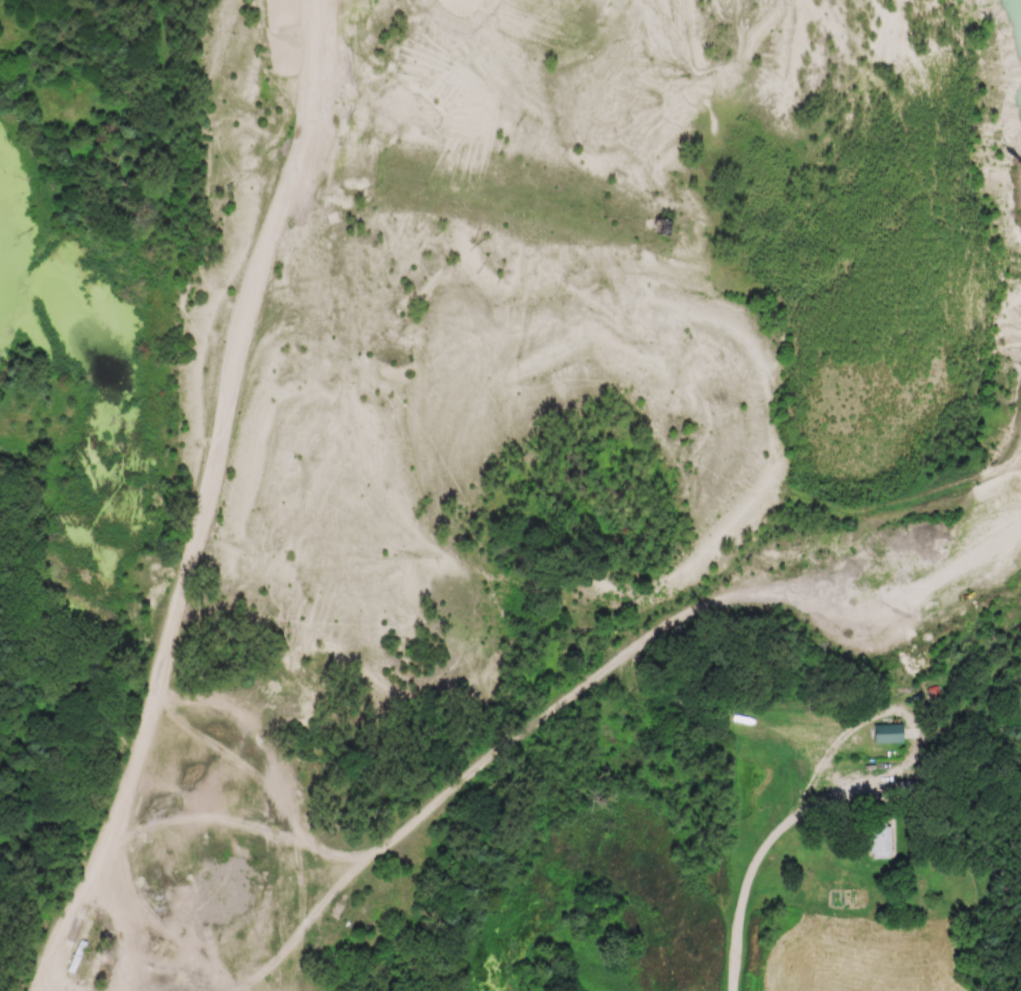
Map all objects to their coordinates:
building: (888, 735)
building: (884, 844)
road: (771, 848)
building: (80, 957)
building: (94, 971)

